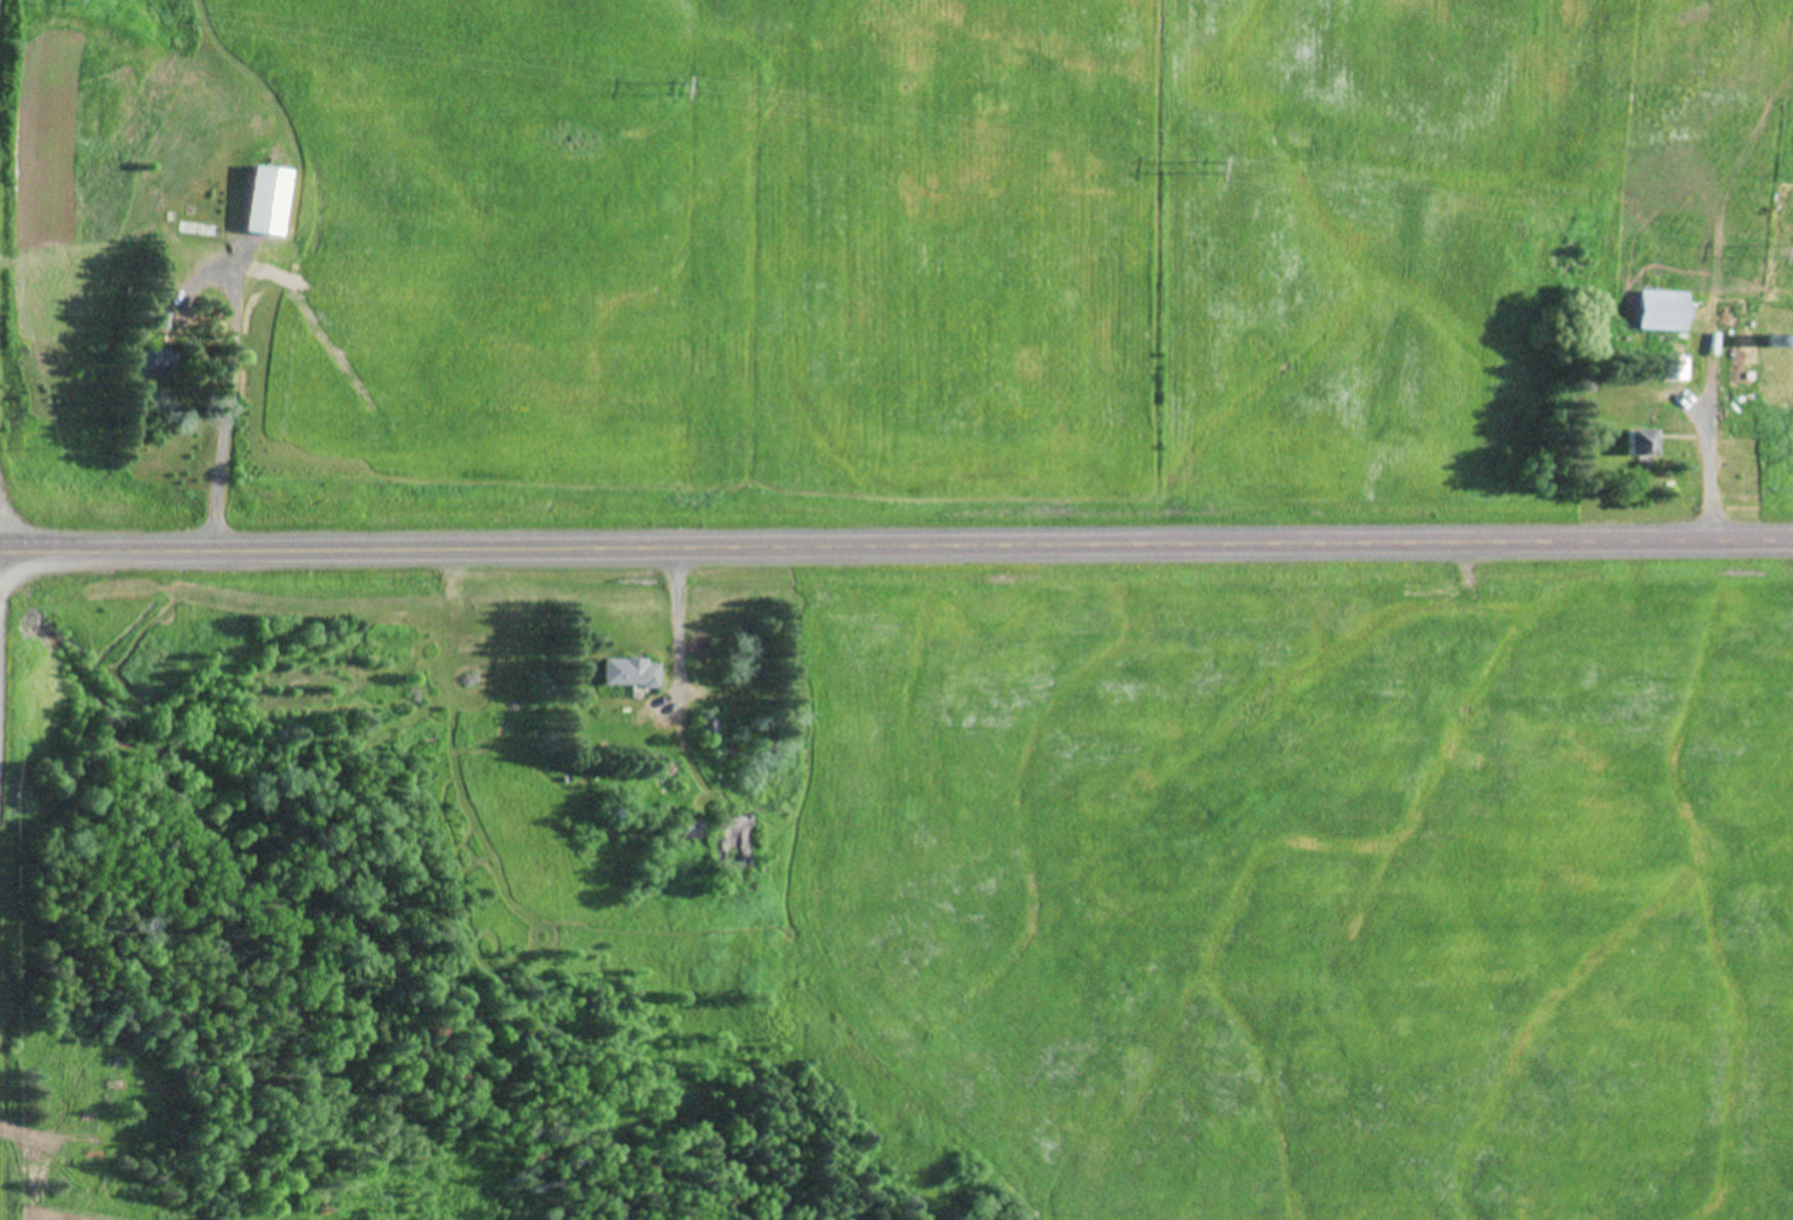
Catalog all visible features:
power tower: (669, 78)
building: (187, 141)
power tower: (1153, 157)
building: (240, 219)
power tower: (1768, 252)
crop: (938, 253)
building: (1656, 311)
building: (151, 318)
building: (150, 362)
building: (1668, 369)
building: (1633, 442)
road: (896, 545)
building: (623, 674)
building: (703, 727)
building: (685, 828)
building: (1781, 1165)

